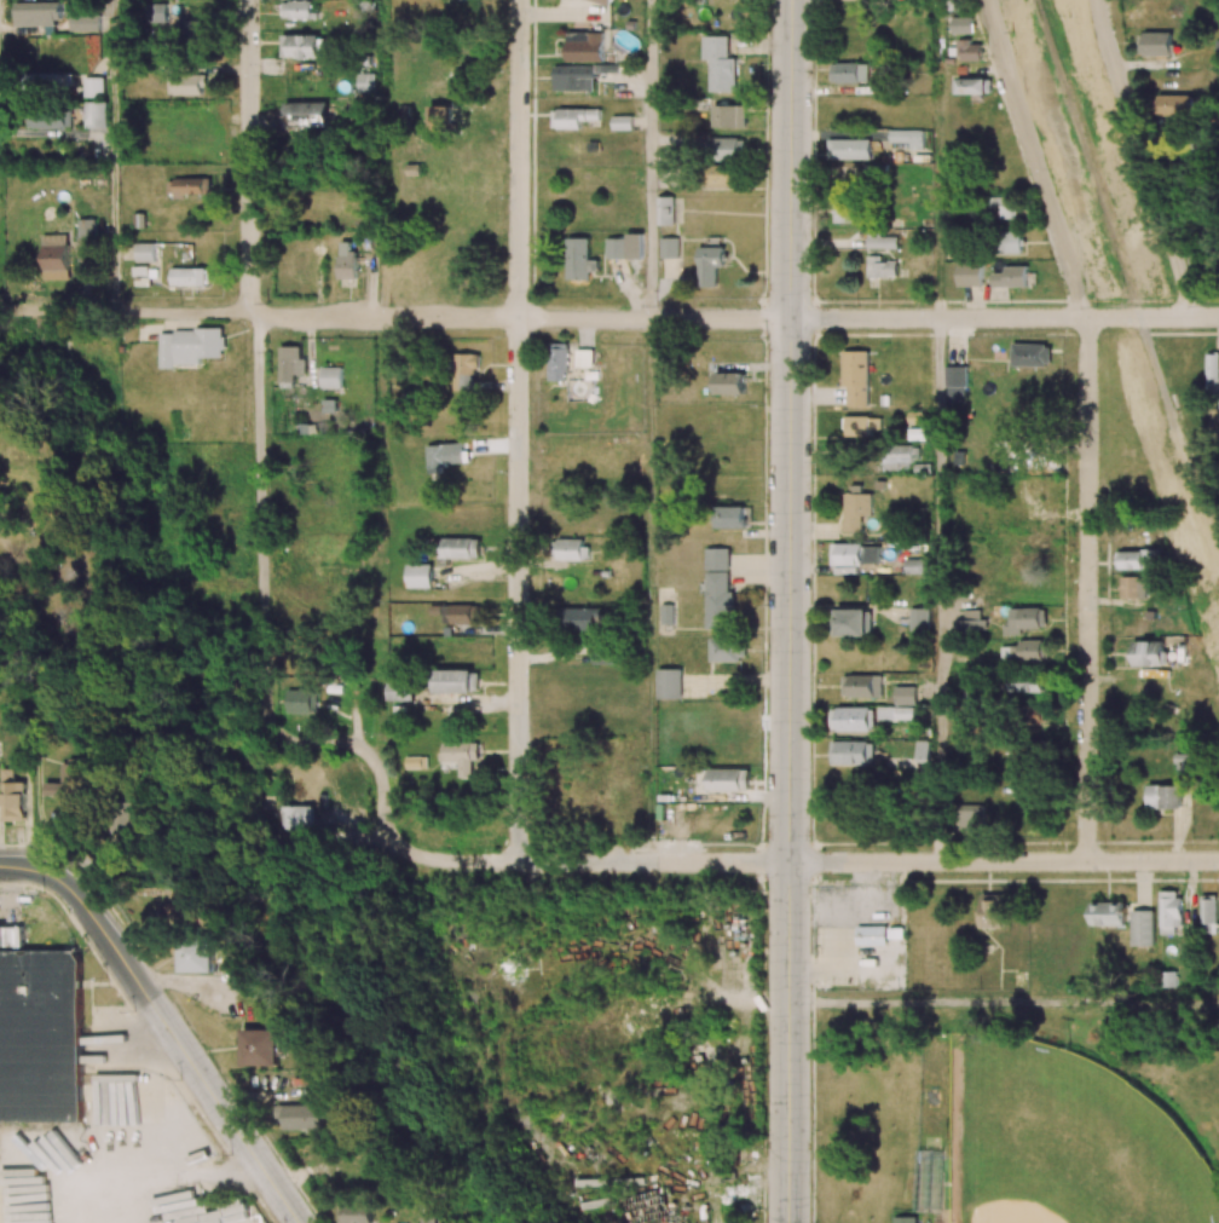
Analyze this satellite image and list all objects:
building: (603, 1)
building: (296, 10)
building: (158, 12)
building: (36, 13)
building: (83, 22)
building: (959, 24)
building: (190, 31)
building: (1155, 42)
building: (585, 46)
building: (965, 50)
building: (720, 63)
building: (849, 73)
building: (573, 77)
building: (365, 82)
building: (186, 83)
building: (93, 86)
building: (972, 86)
building: (1173, 104)
building: (96, 114)
building: (305, 114)
building: (729, 115)
building: (576, 117)
building: (622, 122)
building: (907, 137)
building: (728, 149)
building: (849, 149)
road: (114, 155)
road: (649, 158)
road: (1034, 158)
road: (1145, 158)
building: (721, 177)
building: (187, 188)
building: (1005, 207)
building: (665, 210)
building: (847, 210)
building: (86, 232)
building: (882, 240)
building: (1011, 242)
building: (624, 247)
building: (669, 247)
building: (145, 252)
building: (54, 256)
building: (578, 258)
building: (346, 260)
building: (710, 264)
building: (880, 267)
building: (970, 273)
building: (187, 276)
building: (1011, 277)
road: (394, 318)
road: (1004, 318)
building: (189, 346)
building: (1030, 354)
building: (584, 358)
building: (557, 362)
building: (290, 364)
building: (464, 371)
building: (1213, 373)
building: (331, 376)
building: (856, 376)
building: (730, 383)
building: (957, 383)
building: (861, 425)
road: (518, 432)
building: (901, 455)
building: (443, 456)
road: (261, 471)
building: (1032, 489)
building: (856, 510)
building: (730, 517)
building: (461, 547)
building: (571, 549)
building: (1033, 552)
building: (850, 554)
building: (717, 558)
building: (1139, 559)
building: (418, 576)
building: (1133, 587)
road: (936, 589)
road: (1087, 589)
building: (718, 600)
road: (790, 611)
building: (461, 613)
building: (666, 613)
building: (582, 617)
building: (919, 619)
building: (1026, 619)
building: (971, 621)
building: (851, 622)
building: (727, 648)
building: (1034, 648)
building: (1149, 653)
building: (603, 656)
building: (456, 681)
building: (669, 683)
building: (862, 685)
building: (1026, 685)
building: (399, 691)
building: (906, 694)
building: (300, 702)
building: (903, 713)
building: (1035, 715)
building: (854, 719)
building: (851, 752)
building: (461, 756)
building: (1184, 767)
building: (724, 779)
building: (71, 783)
building: (12, 796)
building: (1163, 796)
building: (295, 817)
building: (970, 818)
road: (1004, 861)
road: (593, 864)
road: (28, 867)
building: (992, 911)
building: (1169, 912)
building: (1108, 913)
building: (1208, 915)
building: (1142, 928)
building: (4, 936)
building: (198, 954)
road: (1004, 1003)
building: (40, 1035)
road: (179, 1045)
building: (261, 1046)
park: (1018, 1112)
building: (301, 1117)
park: (1065, 1141)
building: (354, 1215)
building: (432, 1219)
building: (905, 1219)

